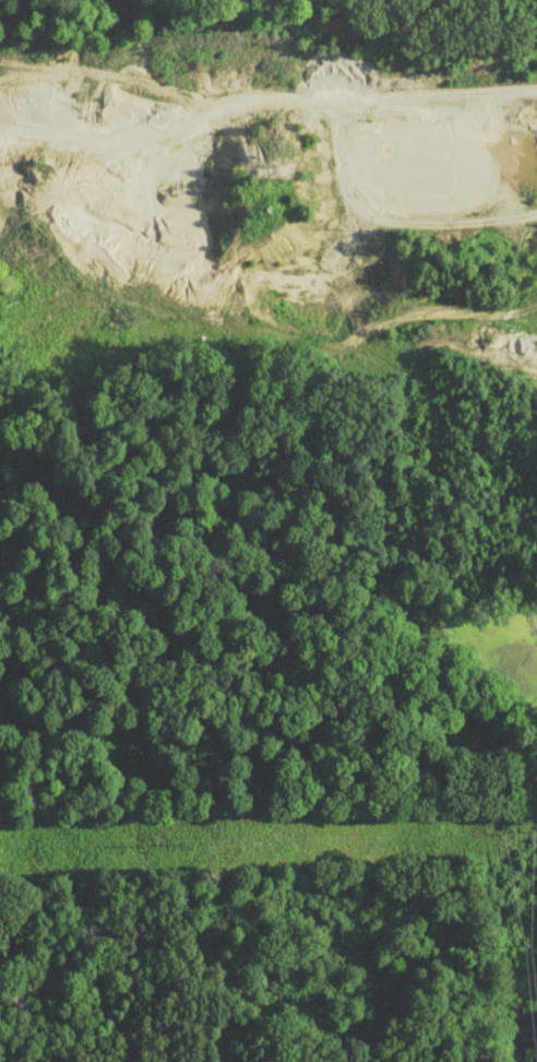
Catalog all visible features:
road: (338, 156)

